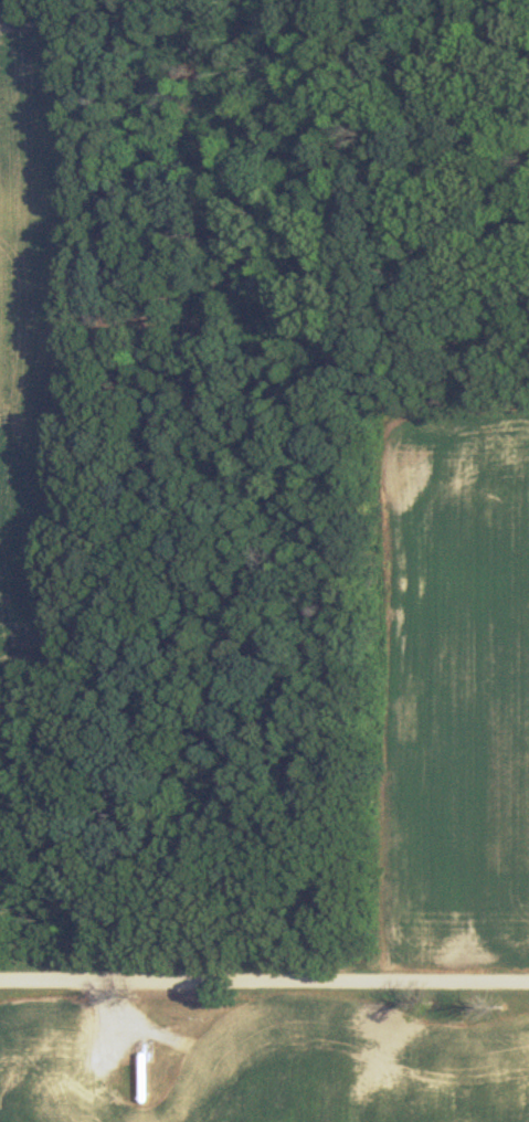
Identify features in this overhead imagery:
road: (264, 984)

